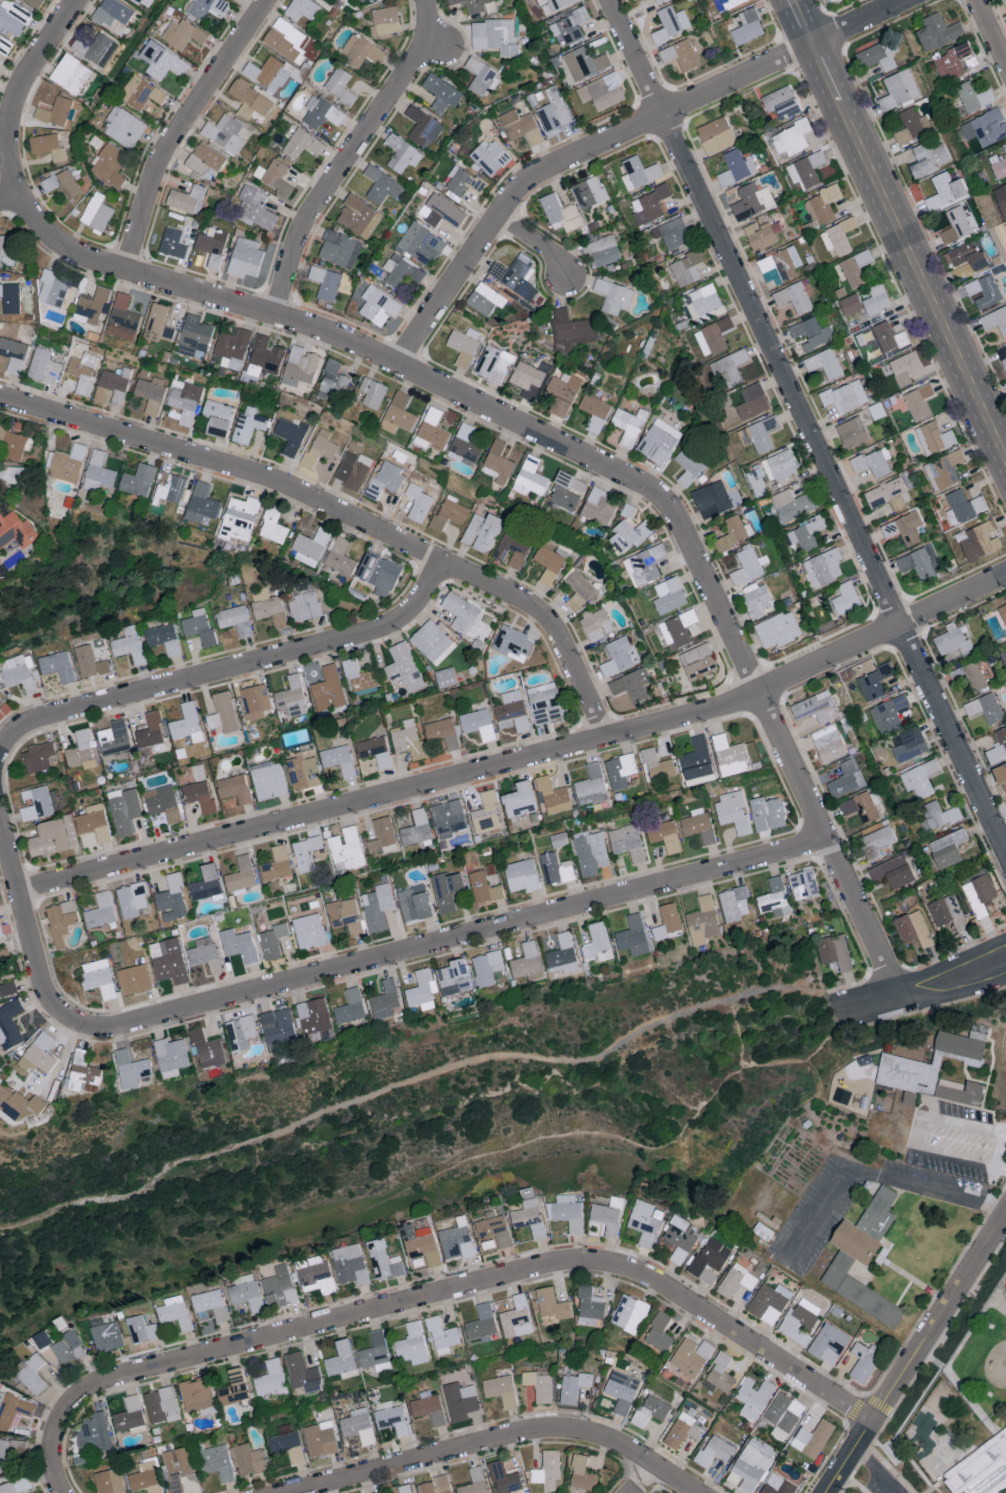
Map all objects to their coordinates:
building: (361, 0)
building: (634, 0)
building: (832, 0)
building: (659, 1)
building: (143, 2)
building: (1004, 2)
building: (34, 3)
building: (727, 4)
building: (476, 5)
building: (554, 5)
building: (207, 7)
building: (301, 9)
building: (112, 12)
building: (13, 17)
building: (385, 20)
building: (670, 23)
building: (568, 27)
building: (747, 27)
building: (938, 32)
building: (182, 34)
road: (990, 34)
building: (495, 36)
building: (285, 40)
building: (77, 45)
building: (4, 46)
road: (434, 47)
building: (100, 50)
building: (360, 51)
building: (680, 55)
building: (878, 56)
building: (162, 61)
building: (953, 61)
building: (584, 62)
building: (269, 73)
building: (70, 74)
building: (481, 76)
building: (339, 85)
road: (19, 89)
building: (899, 90)
building: (601, 91)
building: (141, 93)
building: (441, 93)
building: (973, 96)
building: (250, 99)
building: (781, 103)
building: (56, 112)
building: (317, 112)
building: (913, 125)
building: (124, 127)
road: (180, 127)
building: (422, 127)
building: (520, 127)
building: (985, 127)
building: (224, 133)
building: (715, 135)
building: (794, 137)
road: (615, 138)
building: (301, 144)
building: (47, 146)
building: (402, 154)
road: (349, 155)
building: (489, 157)
building: (930, 157)
building: (205, 161)
building: (998, 163)
building: (109, 165)
building: (736, 167)
building: (806, 171)
building: (639, 173)
building: (276, 177)
building: (462, 182)
building: (62, 183)
building: (381, 185)
building: (945, 191)
building: (589, 192)
road: (9, 198)
building: (1001, 198)
building: (186, 199)
building: (751, 201)
building: (649, 204)
building: (822, 205)
building: (256, 208)
building: (441, 211)
building: (96, 212)
building: (560, 213)
building: (358, 217)
building: (958, 225)
road: (899, 229)
building: (672, 233)
building: (761, 234)
building: (837, 238)
road: (535, 242)
building: (419, 243)
building: (173, 244)
building: (212, 246)
building: (339, 249)
building: (6, 250)
building: (602, 250)
building: (969, 256)
building: (244, 258)
building: (780, 266)
building: (685, 268)
building: (855, 268)
building: (402, 273)
building: (514, 274)
building: (326, 283)
building: (53, 288)
building: (984, 291)
building: (612, 296)
building: (11, 297)
building: (794, 298)
building: (485, 299)
building: (876, 300)
building: (703, 301)
building: (850, 304)
building: (378, 305)
building: (91, 307)
building: (122, 318)
building: (995, 320)
building: (158, 321)
building: (571, 331)
building: (809, 331)
building: (194, 336)
building: (712, 337)
building: (884, 340)
building: (463, 346)
building: (232, 348)
building: (13, 354)
building: (264, 356)
building: (494, 363)
building: (1003, 363)
building: (824, 364)
building: (43, 366)
building: (299, 366)
building: (907, 368)
building: (729, 369)
building: (82, 371)
building: (333, 379)
building: (527, 380)
building: (115, 383)
building: (565, 385)
building: (150, 393)
building: (372, 393)
building: (845, 397)
building: (918, 401)
building: (183, 402)
building: (752, 402)
building: (560, 408)
building: (876, 410)
building: (594, 411)
building: (398, 414)
building: (217, 418)
building: (248, 425)
building: (628, 425)
road: (804, 427)
building: (432, 431)
building: (852, 432)
building: (759, 434)
building: (290, 436)
building: (934, 437)
building: (658, 441)
building: (11, 443)
building: (465, 445)
building: (319, 448)
road: (589, 460)
building: (112, 462)
building: (873, 462)
building: (66, 463)
building: (498, 463)
building: (689, 465)
building: (780, 465)
building: (944, 469)
building: (352, 470)
building: (12, 474)
building: (529, 477)
building: (385, 479)
building: (139, 480)
building: (172, 489)
building: (566, 492)
building: (888, 495)
building: (716, 499)
building: (203, 500)
building: (418, 503)
building: (792, 505)
building: (963, 506)
building: (599, 509)
building: (448, 513)
road: (341, 515)
building: (239, 519)
building: (272, 526)
building: (16, 529)
building: (904, 529)
building: (481, 531)
building: (734, 533)
building: (806, 534)
building: (630, 535)
building: (979, 540)
building: (310, 547)
building: (510, 551)
building: (339, 557)
building: (0, 558)
building: (548, 559)
building: (920, 562)
building: (644, 565)
building: (748, 566)
building: (823, 568)
building: (378, 574)
building: (579, 591)
building: (669, 595)
building: (756, 599)
building: (845, 599)
building: (304, 604)
building: (268, 607)
building: (460, 612)
building: (1003, 612)
building: (234, 620)
building: (595, 624)
building: (199, 628)
building: (676, 629)
building: (778, 629)
building: (164, 639)
building: (952, 641)
building: (432, 642)
building: (512, 643)
building: (129, 645)
building: (618, 656)
building: (90, 662)
road: (253, 662)
building: (698, 662)
building: (58, 666)
building: (403, 668)
building: (20, 672)
building: (445, 677)
building: (974, 677)
building: (358, 678)
building: (874, 682)
building: (631, 685)
building: (327, 689)
building: (254, 699)
building: (291, 699)
building: (1, 701)
building: (545, 703)
building: (813, 707)
building: (984, 709)
building: (512, 712)
building: (222, 713)
building: (891, 714)
building: (186, 723)
building: (478, 724)
building: (150, 731)
road: (16, 732)
building: (443, 732)
building: (114, 740)
building: (408, 740)
building: (833, 740)
building: (909, 745)
building: (998, 747)
building: (80, 750)
building: (374, 752)
building: (730, 756)
building: (37, 757)
building: (697, 759)
building: (338, 760)
road: (523, 760)
building: (658, 766)
building: (620, 771)
building: (198, 772)
building: (303, 772)
building: (1001, 776)
building: (920, 778)
building: (845, 779)
building: (268, 781)
building: (591, 786)
building: (234, 789)
building: (200, 797)
building: (519, 801)
building: (162, 803)
building: (39, 804)
building: (861, 806)
building: (124, 810)
building: (733, 811)
road: (997, 813)
building: (486, 814)
building: (766, 814)
building: (938, 816)
building: (448, 819)
building: (94, 822)
building: (697, 825)
building: (416, 828)
building: (70, 830)
building: (381, 835)
building: (664, 836)
building: (48, 839)
building: (627, 842)
building: (876, 842)
building: (346, 849)
building: (947, 849)
building: (590, 852)
building: (306, 853)
building: (276, 865)
building: (555, 869)
building: (893, 872)
building: (240, 875)
building: (521, 876)
building: (803, 882)
building: (206, 884)
building: (485, 885)
building: (446, 891)
building: (979, 895)
building: (774, 898)
building: (131, 900)
building: (171, 900)
building: (414, 903)
building: (733, 903)
building: (377, 907)
building: (100, 911)
building: (948, 912)
building: (345, 915)
building: (702, 920)
building: (61, 921)
building: (913, 928)
building: (308, 932)
building: (0, 933)
road: (32, 935)
road: (462, 936)
building: (633, 936)
building: (272, 941)
building: (597, 943)
building: (238, 945)
building: (834, 951)
building: (204, 954)
building: (561, 954)
building: (168, 961)
building: (528, 961)
building: (486, 967)
building: (453, 977)
building: (98, 978)
building: (133, 979)
building: (7, 989)
building: (421, 990)
road: (927, 994)
building: (384, 1000)
building: (350, 1007)
building: (312, 1015)
building: (10, 1025)
building: (276, 1027)
building: (240, 1032)
building: (962, 1047)
building: (207, 1049)
building: (39, 1053)
building: (170, 1056)
building: (130, 1069)
building: (83, 1073)
building: (907, 1073)
road: (399, 1082)
building: (962, 1092)
building: (18, 1103)
road: (921, 1130)
parking lot: (955, 1143)
road: (999, 1152)
road: (999, 1168)
road: (872, 1176)
parking lot: (936, 1180)
building: (567, 1212)
building: (878, 1213)
building: (608, 1215)
parking lot: (815, 1215)
building: (529, 1218)
building: (646, 1222)
building: (494, 1229)
building: (762, 1231)
building: (679, 1238)
building: (456, 1240)
building: (855, 1242)
building: (384, 1260)
building: (708, 1261)
building: (350, 1264)
building: (735, 1280)
building: (859, 1291)
building: (247, 1295)
road: (439, 1297)
building: (768, 1302)
building: (551, 1303)
building: (589, 1303)
building: (210, 1306)
building: (176, 1312)
building: (629, 1314)
building: (516, 1318)
building: (799, 1321)
building: (482, 1324)
building: (142, 1329)
building: (659, 1333)
building: (108, 1336)
building: (442, 1336)
building: (45, 1339)
building: (827, 1343)
building: (412, 1344)
building: (70, 1349)
building: (375, 1353)
road: (915, 1355)
building: (691, 1357)
building: (341, 1361)
building: (862, 1362)
building: (720, 1372)
building: (301, 1373)
building: (34, 1375)
building: (269, 1377)
building: (540, 1383)
building: (233, 1387)
building: (574, 1387)
building: (500, 1389)
building: (621, 1391)
building: (196, 1394)
building: (753, 1397)
building: (459, 1400)
building: (161, 1405)
building: (428, 1408)
building: (14, 1409)
building: (650, 1411)
building: (129, 1414)
building: (783, 1415)
building: (391, 1419)
building: (358, 1426)
building: (682, 1430)
building: (94, 1432)
building: (814, 1438)
building: (319, 1439)
road: (499, 1439)
building: (287, 1446)
building: (713, 1451)
building: (9, 1453)
building: (248, 1460)
building: (217, 1462)
building: (750, 1465)
building: (177, 1467)
building: (981, 1470)
building: (547, 1471)
road: (874, 1471)
building: (582, 1475)
building: (146, 1477)
building: (504, 1478)
road: (643, 1480)
building: (108, 1481)
building: (474, 1482)
building: (436, 1485)
building: (777, 1485)
building: (16, 1486)
parking lot: (871, 1487)
building: (404, 1488)
building: (374, 1492)

